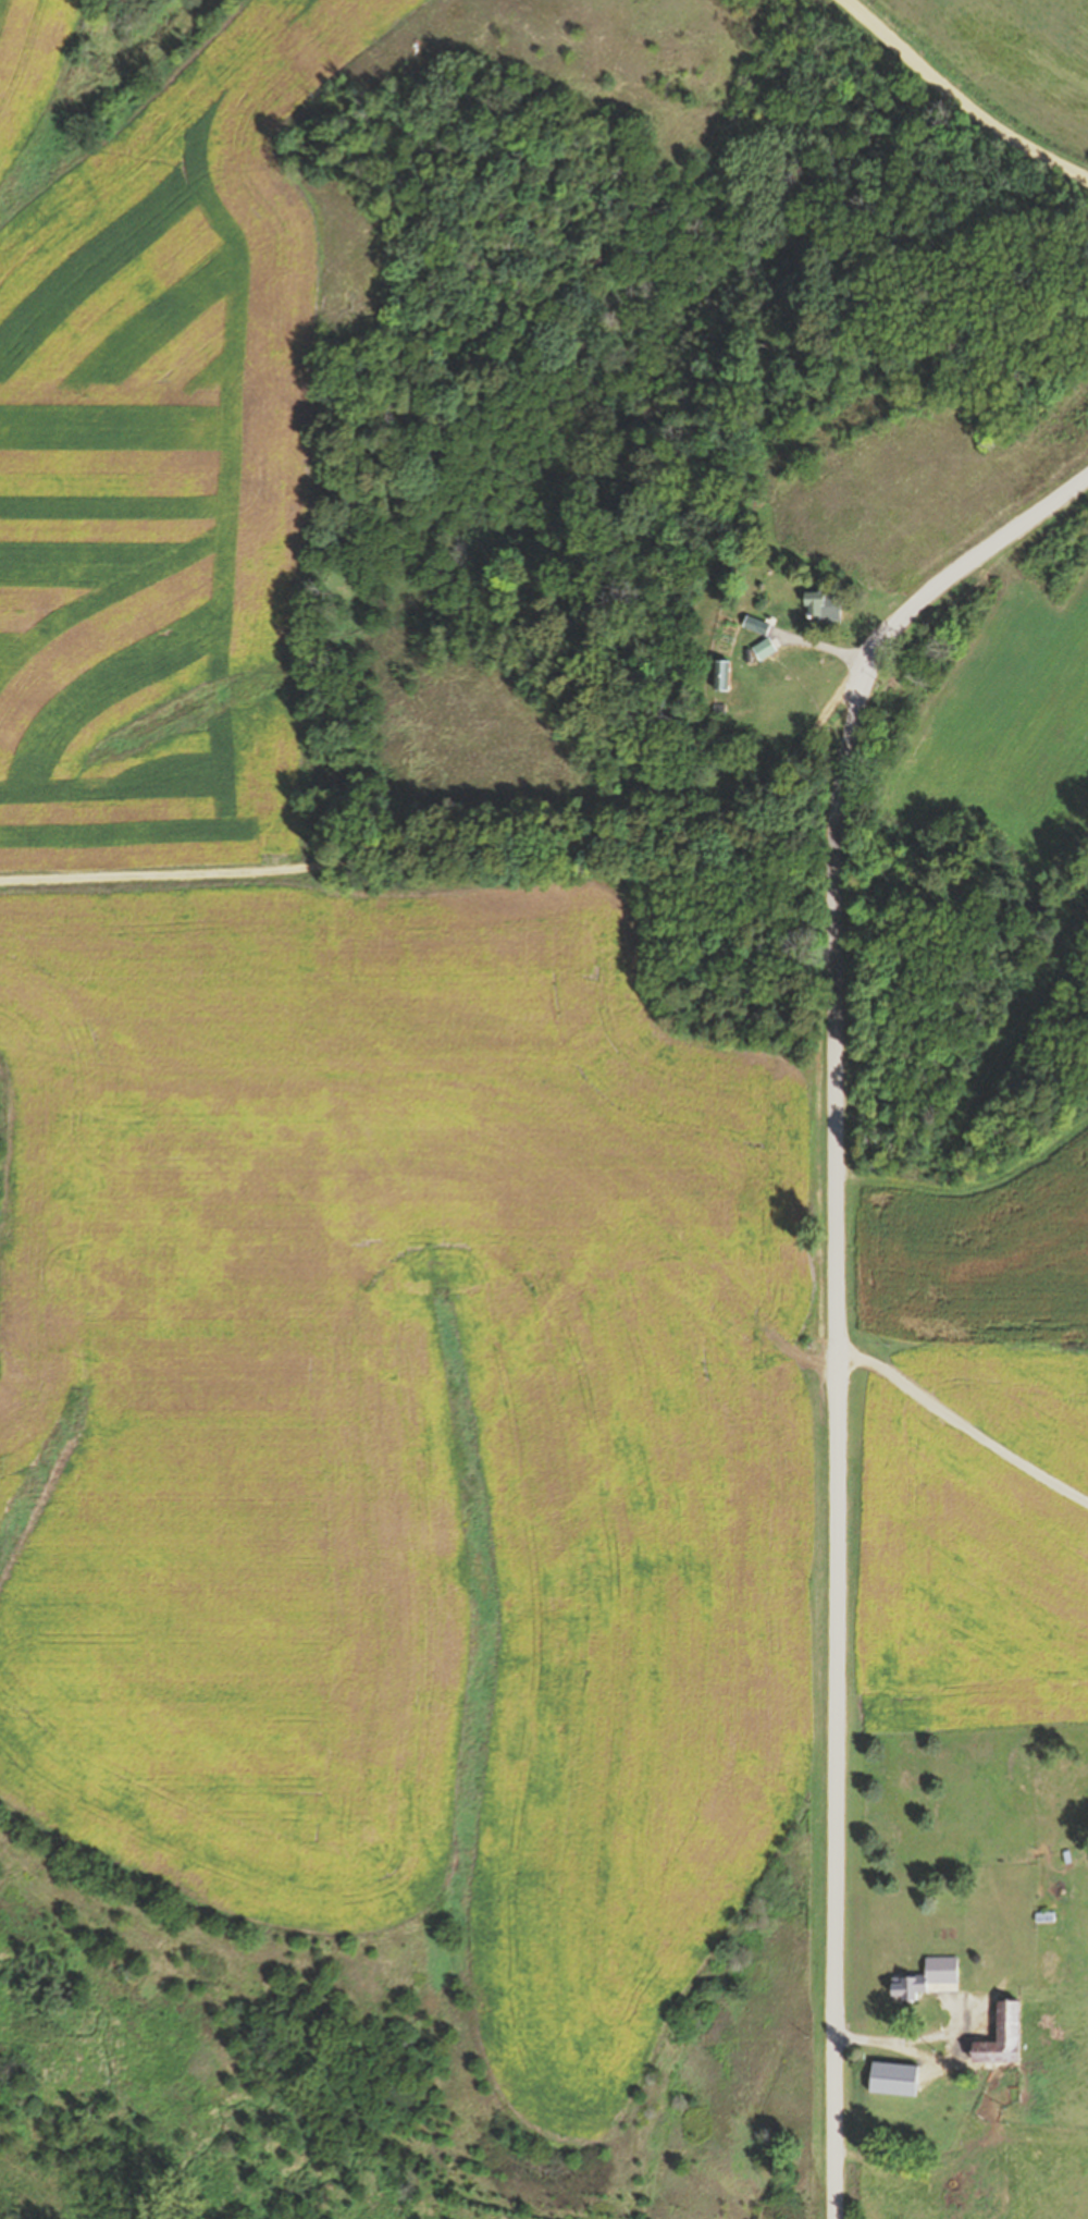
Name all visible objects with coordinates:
road: (963, 95)
building: (821, 606)
building: (764, 649)
building: (720, 676)
road: (441, 850)
road: (836, 1295)
road: (960, 1419)
building: (925, 1978)
building: (1000, 2036)
building: (893, 2079)

